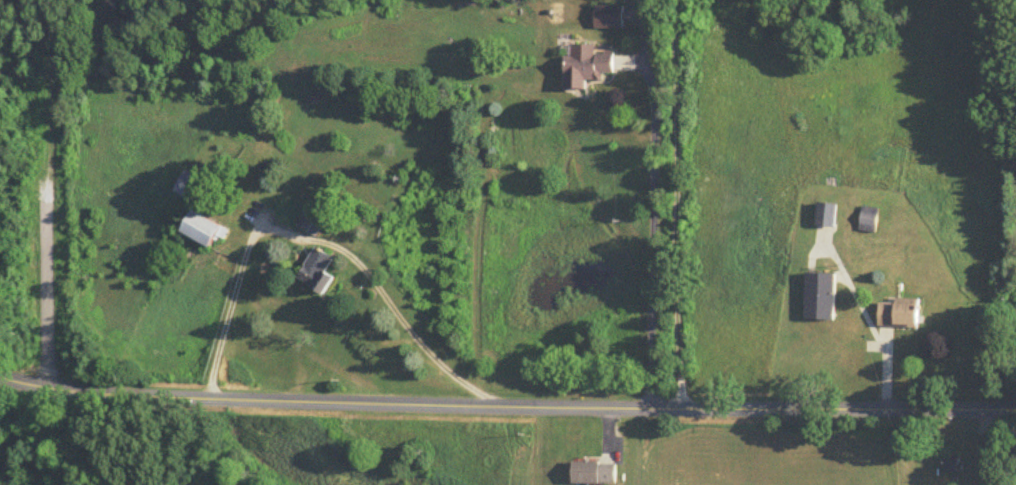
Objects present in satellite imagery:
building: (609, 18)
building: (587, 66)
building: (192, 189)
building: (828, 217)
building: (870, 221)
building: (312, 222)
building: (204, 231)
road: (654, 234)
road: (324, 238)
building: (317, 272)
building: (821, 298)
building: (900, 316)
road: (1015, 408)
road: (507, 409)
road: (83, 438)
building: (954, 466)
building: (594, 474)

